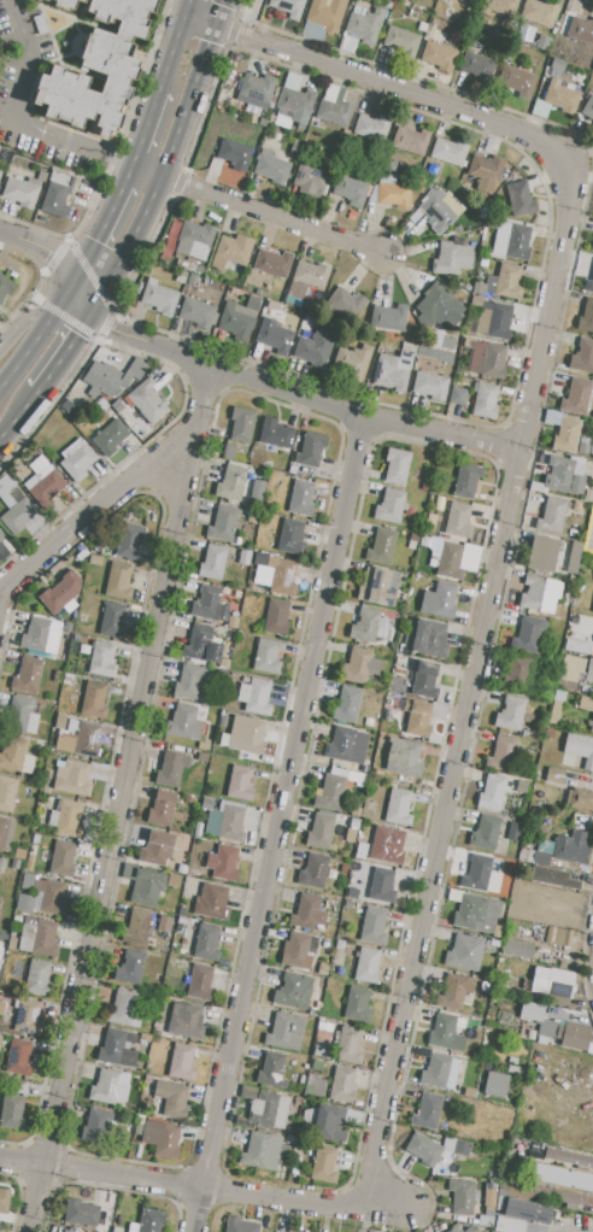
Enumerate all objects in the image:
building: (37, 0)
building: (45, 0)
building: (469, 1)
road: (186, 6)
building: (288, 6)
building: (499, 6)
building: (538, 12)
building: (327, 13)
building: (365, 25)
building: (581, 29)
building: (401, 41)
building: (542, 42)
road: (171, 49)
building: (439, 57)
building: (535, 60)
building: (477, 65)
building: (96, 68)
building: (515, 80)
road: (377, 81)
building: (257, 90)
building: (560, 98)
building: (294, 100)
road: (16, 104)
building: (539, 108)
building: (588, 108)
building: (335, 112)
building: (372, 127)
road: (146, 128)
building: (410, 140)
building: (295, 148)
building: (450, 151)
building: (235, 153)
road: (165, 160)
road: (115, 162)
building: (388, 165)
building: (271, 166)
building: (486, 169)
building: (0, 171)
road: (129, 178)
building: (310, 181)
building: (452, 183)
building: (419, 187)
building: (350, 189)
building: (20, 192)
building: (392, 192)
building: (55, 194)
building: (519, 199)
road: (258, 209)
building: (438, 212)
building: (416, 215)
building: (194, 237)
road: (100, 240)
building: (518, 242)
traffic signals: (99, 244)
building: (592, 247)
road: (47, 250)
building: (230, 251)
traffic signals: (52, 252)
building: (453, 257)
building: (272, 263)
building: (200, 269)
building: (180, 277)
building: (192, 280)
building: (304, 281)
building: (505, 282)
building: (6, 286)
building: (588, 286)
building: (159, 298)
building: (476, 300)
building: (346, 303)
building: (310, 304)
building: (438, 307)
building: (196, 312)
road: (33, 315)
building: (586, 316)
building: (388, 317)
building: (239, 318)
building: (495, 322)
traffic signals: (108, 327)
traffic signals: (76, 332)
building: (274, 336)
road: (35, 338)
building: (447, 342)
building: (468, 342)
building: (315, 348)
road: (61, 351)
building: (434, 354)
building: (585, 357)
building: (353, 359)
building: (488, 360)
building: (392, 371)
building: (106, 380)
building: (430, 385)
road: (286, 393)
building: (458, 397)
building: (576, 398)
building: (485, 400)
building: (148, 401)
road: (17, 412)
building: (241, 424)
building: (277, 433)
building: (568, 435)
building: (111, 438)
building: (229, 452)
building: (310, 452)
building: (77, 459)
building: (397, 465)
building: (563, 476)
building: (466, 481)
building: (43, 482)
building: (231, 483)
building: (257, 493)
building: (300, 498)
road: (99, 501)
building: (391, 506)
building: (592, 508)
building: (14, 511)
building: (552, 515)
building: (458, 521)
building: (223, 524)
building: (589, 530)
building: (1, 535)
building: (292, 538)
building: (127, 542)
building: (592, 542)
building: (411, 545)
building: (421, 546)
building: (381, 547)
building: (96, 548)
building: (542, 555)
building: (259, 557)
building: (243, 558)
building: (574, 558)
building: (95, 561)
building: (450, 561)
building: (212, 562)
building: (282, 577)
building: (119, 581)
building: (376, 587)
building: (61, 591)
building: (540, 594)
building: (439, 602)
building: (210, 604)
building: (276, 617)
building: (112, 621)
building: (233, 622)
building: (366, 624)
building: (527, 634)
building: (41, 635)
building: (425, 638)
building: (202, 645)
building: (577, 646)
building: (268, 657)
building: (102, 659)
building: (224, 663)
building: (359, 667)
building: (571, 668)
building: (589, 670)
building: (399, 671)
building: (517, 674)
building: (27, 675)
building: (425, 680)
building: (190, 681)
road: (472, 685)
building: (254, 697)
building: (93, 700)
building: (346, 704)
building: (586, 704)
building: (438, 710)
building: (556, 712)
building: (512, 715)
building: (20, 716)
building: (417, 718)
building: (60, 721)
building: (368, 722)
building: (183, 723)
building: (592, 727)
building: (245, 734)
building: (434, 738)
building: (78, 739)
building: (340, 744)
building: (204, 746)
building: (580, 749)
building: (501, 753)
building: (14, 755)
building: (202, 757)
building: (404, 757)
building: (171, 769)
building: (554, 775)
building: (354, 776)
building: (72, 778)
building: (240, 784)
building: (521, 787)
building: (492, 792)
building: (7, 793)
building: (330, 793)
road: (117, 799)
building: (580, 799)
building: (162, 808)
building: (398, 808)
building: (356, 811)
building: (66, 819)
building: (225, 823)
building: (354, 823)
road: (271, 825)
building: (513, 831)
building: (321, 832)
building: (6, 833)
building: (485, 833)
building: (350, 835)
building: (187, 841)
building: (571, 846)
building: (160, 847)
building: (392, 847)
building: (19, 853)
building: (360, 855)
building: (63, 858)
building: (541, 858)
building: (0, 861)
building: (30, 863)
building: (222, 863)
building: (359, 868)
building: (315, 872)
building: (476, 873)
building: (553, 878)
building: (174, 882)
building: (12, 884)
building: (143, 885)
building: (382, 886)
building: (52, 897)
building: (0, 899)
building: (0, 902)
building: (212, 903)
building: (348, 904)
building: (307, 913)
building: (476, 913)
building: (181, 920)
building: (164, 923)
building: (374, 926)
building: (136, 928)
building: (39, 937)
building: (558, 937)
building: (206, 943)
building: (11, 944)
building: (339, 945)
building: (517, 948)
building: (298, 950)
building: (465, 952)
building: (366, 966)
building: (130, 968)
building: (323, 970)
building: (37, 978)
building: (200, 982)
building: (553, 982)
building: (296, 992)
building: (454, 992)
building: (2, 999)
building: (358, 1007)
building: (123, 1010)
building: (532, 1013)
building: (28, 1017)
building: (186, 1021)
building: (286, 1032)
building: (441, 1032)
building: (576, 1037)
building: (0, 1039)
building: (348, 1046)
building: (118, 1049)
building: (19, 1058)
building: (181, 1062)
building: (317, 1067)
building: (271, 1072)
building: (435, 1072)
building: (342, 1084)
building: (494, 1084)
building: (108, 1086)
building: (19, 1087)
building: (319, 1087)
building: (247, 1091)
building: (171, 1097)
building: (269, 1110)
building: (428, 1111)
building: (12, 1113)
building: (139, 1119)
building: (240, 1121)
building: (333, 1122)
building: (96, 1126)
building: (139, 1128)
building: (290, 1131)
building: (162, 1139)
building: (289, 1140)
building: (456, 1146)
building: (423, 1149)
building: (265, 1152)
building: (568, 1157)
building: (323, 1164)
road: (206, 1189)
building: (557, 1196)
building: (462, 1197)
building: (5, 1201)
building: (588, 1201)
building: (489, 1202)
building: (523, 1210)
building: (81, 1213)
building: (151, 1220)
building: (507, 1225)
building: (240, 1226)
building: (454, 1230)
building: (470, 1230)

